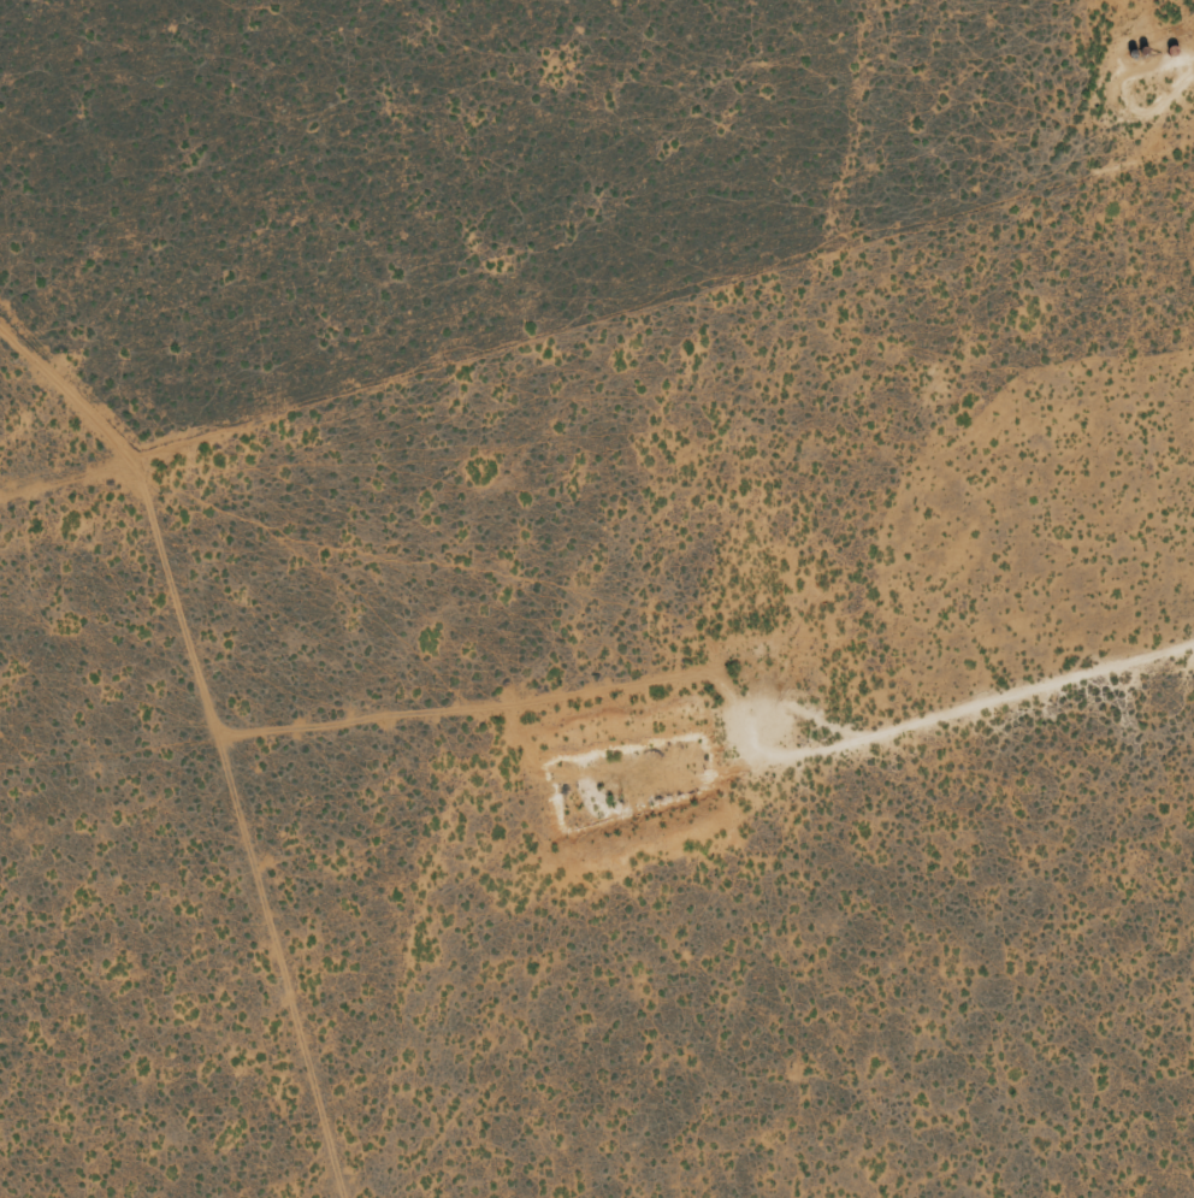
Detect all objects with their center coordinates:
road: (1017, 673)

